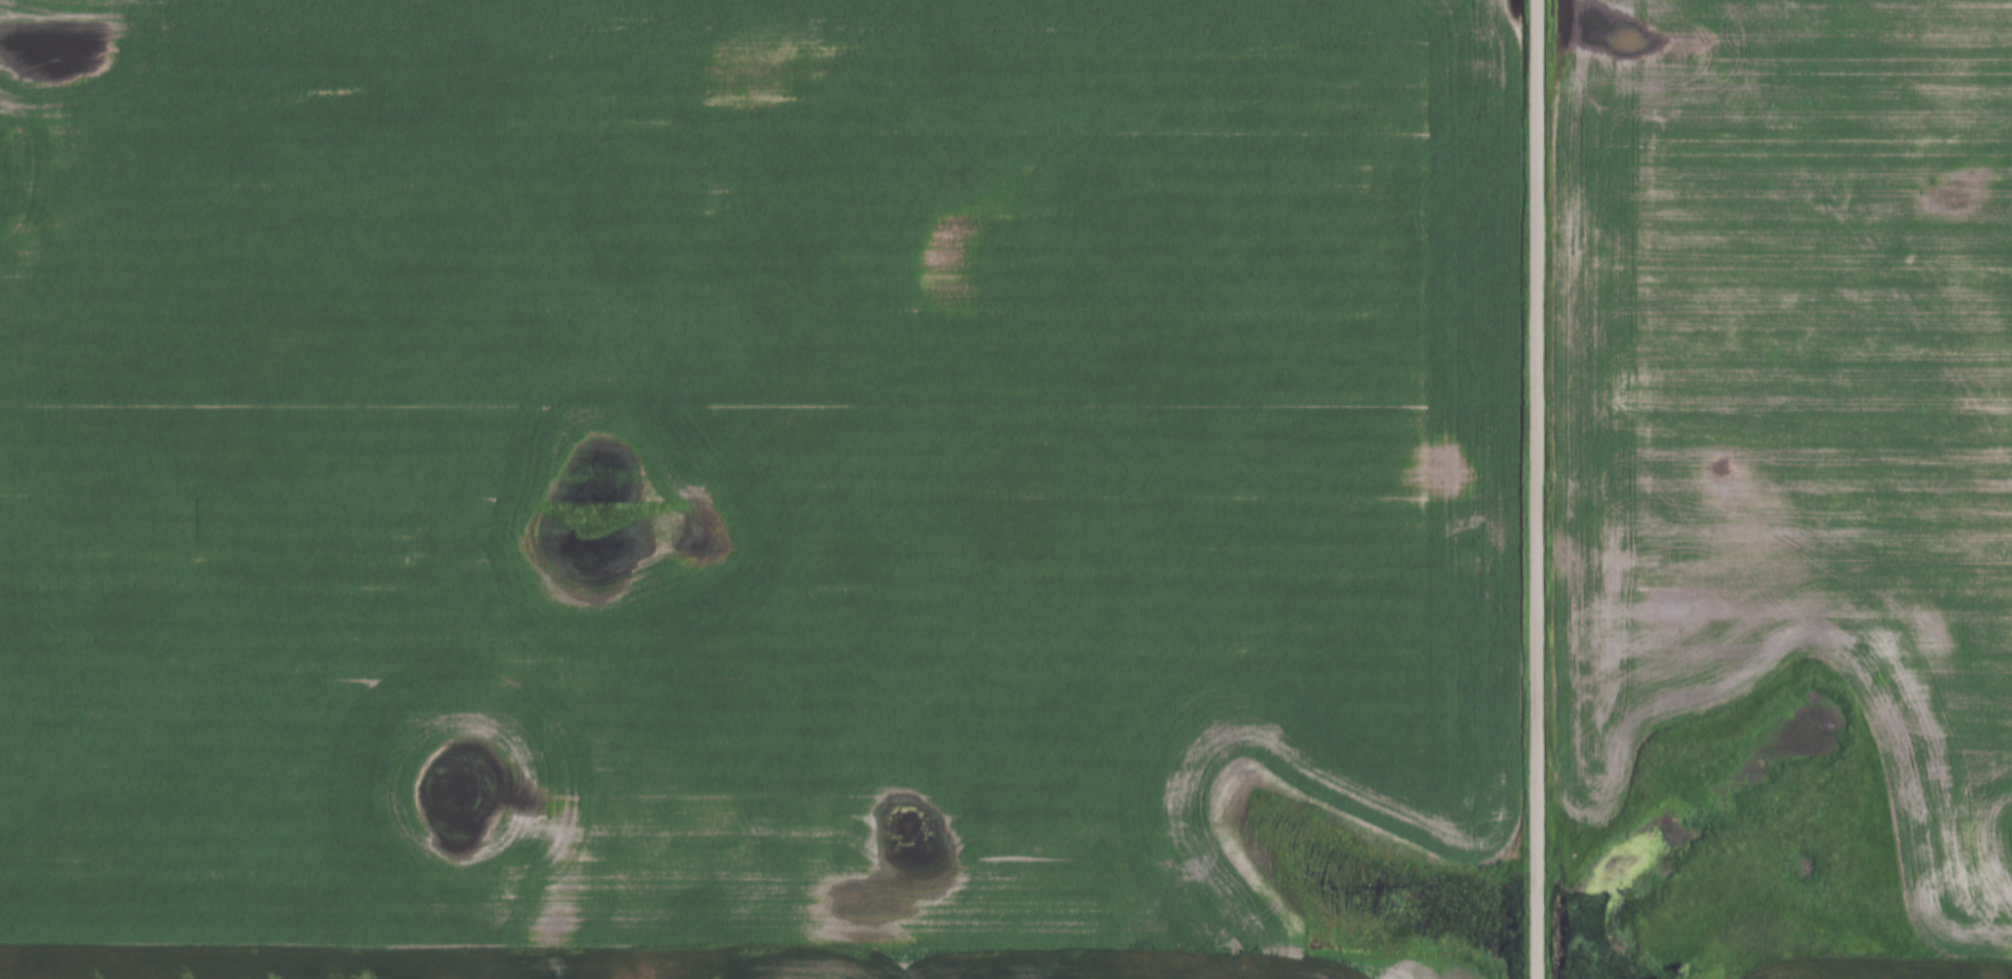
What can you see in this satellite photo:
road: (1542, 489)

